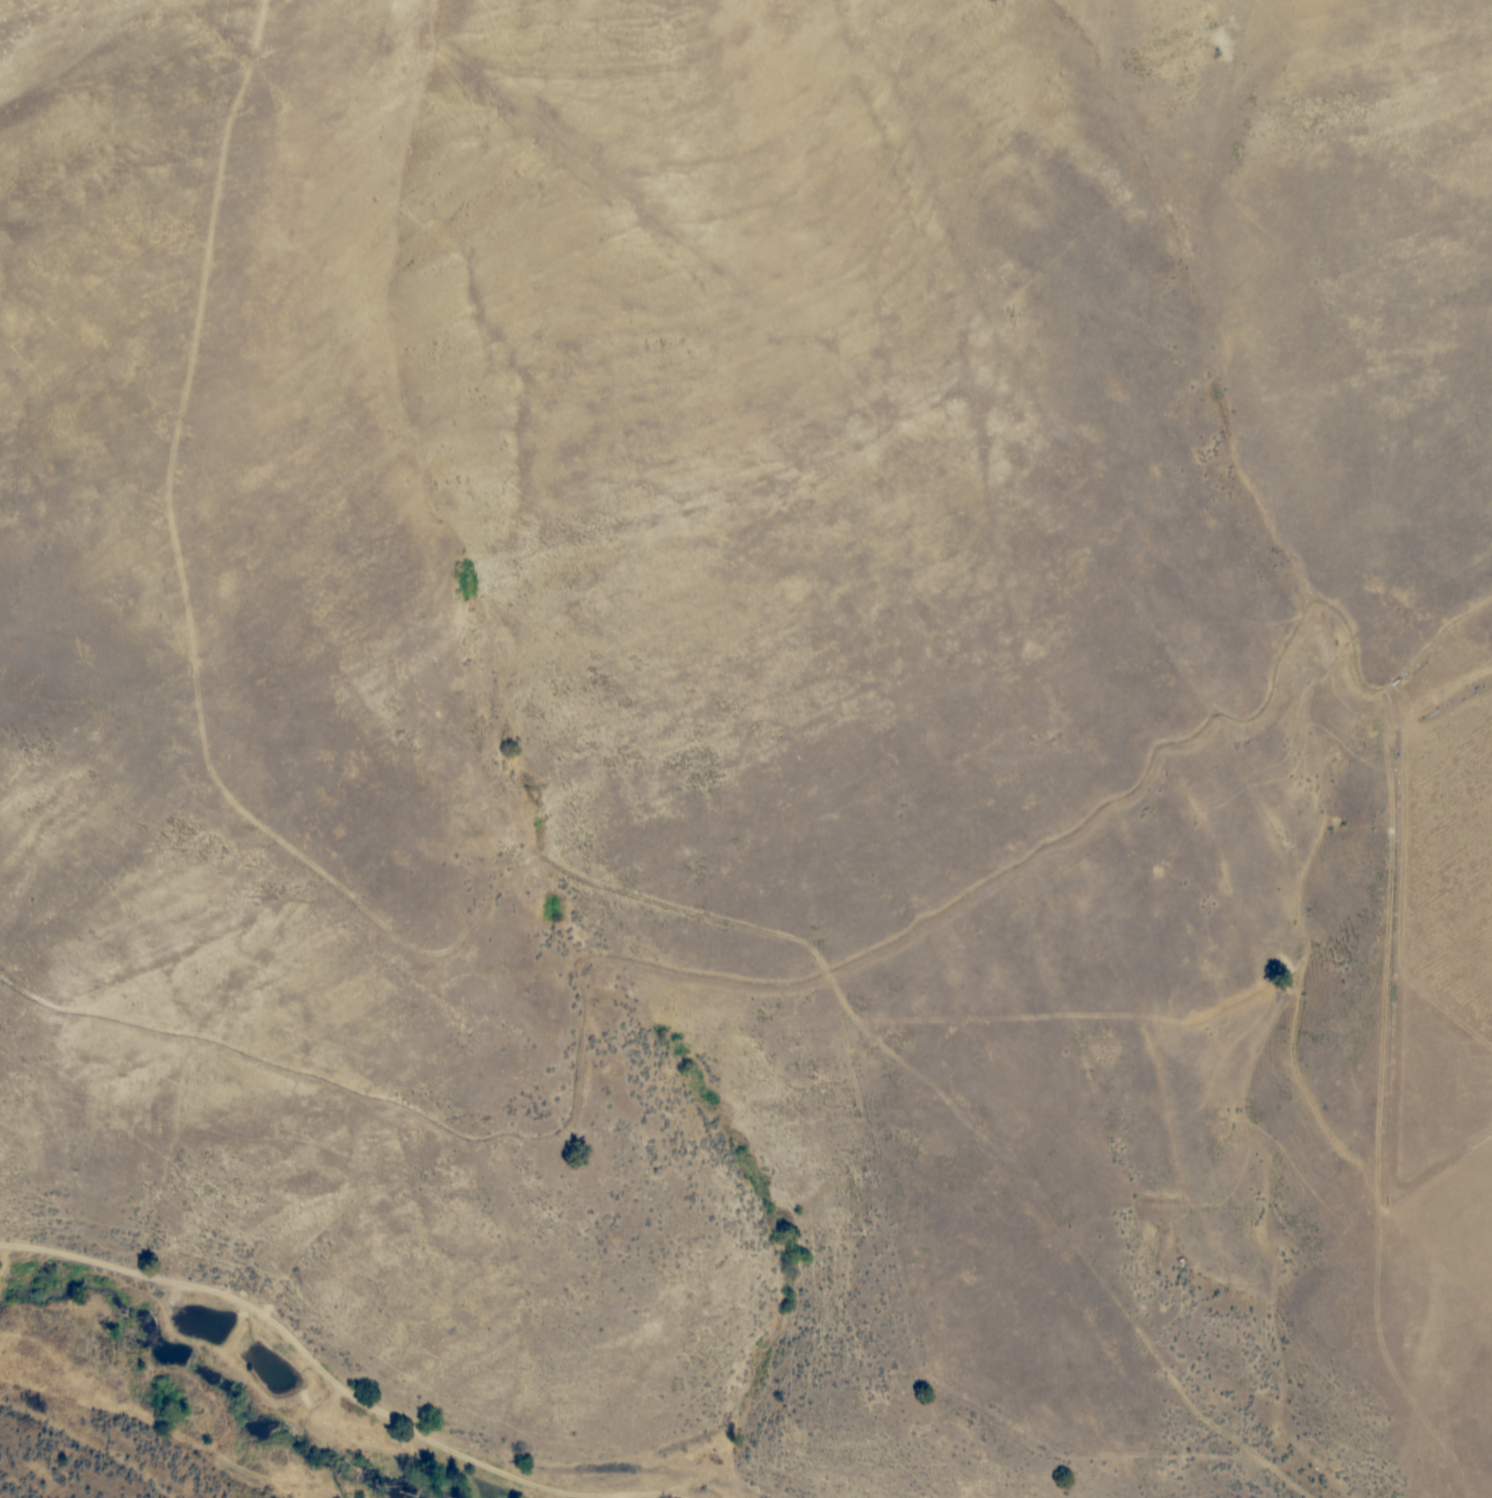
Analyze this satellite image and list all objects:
road: (331, 1379)

